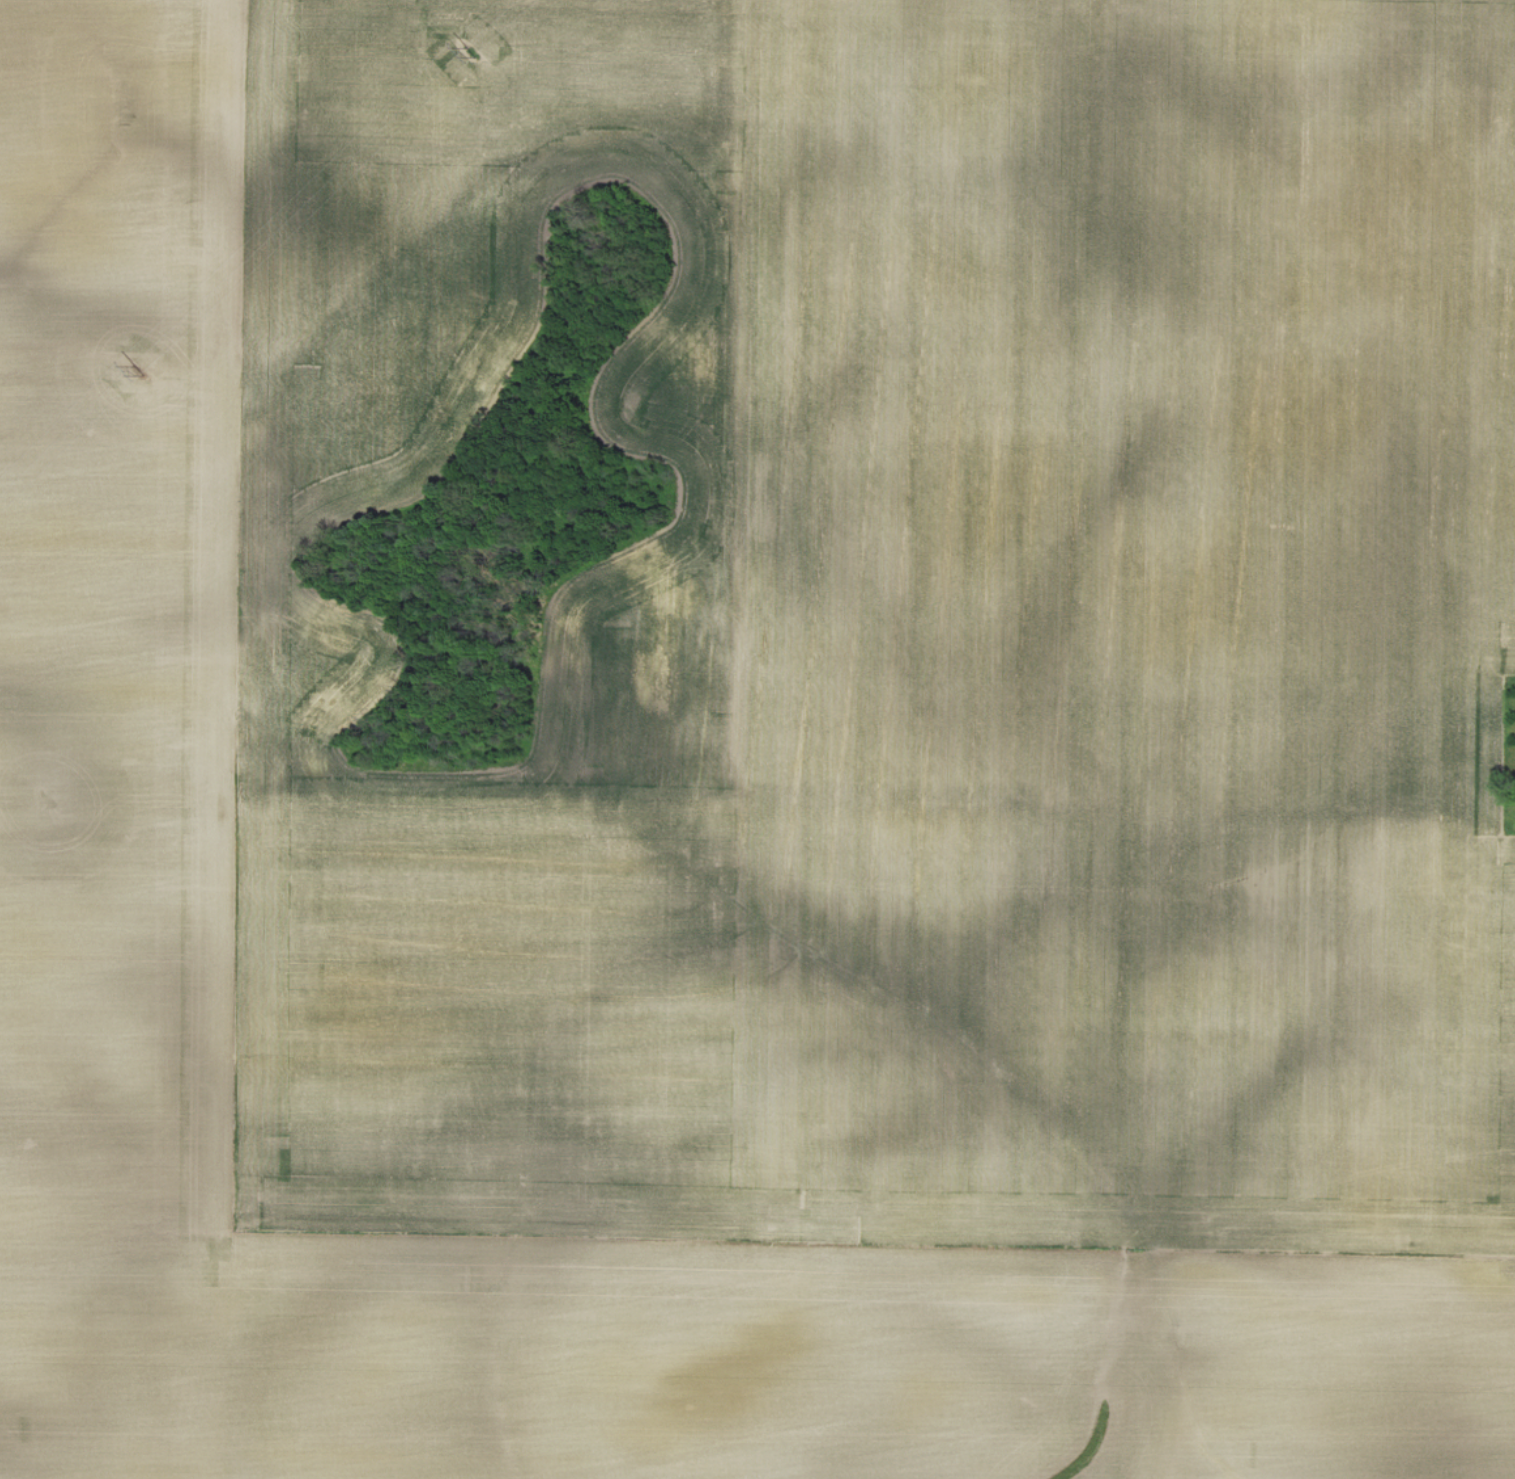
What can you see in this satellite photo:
power tower: (474, 51)
power tower: (139, 370)

